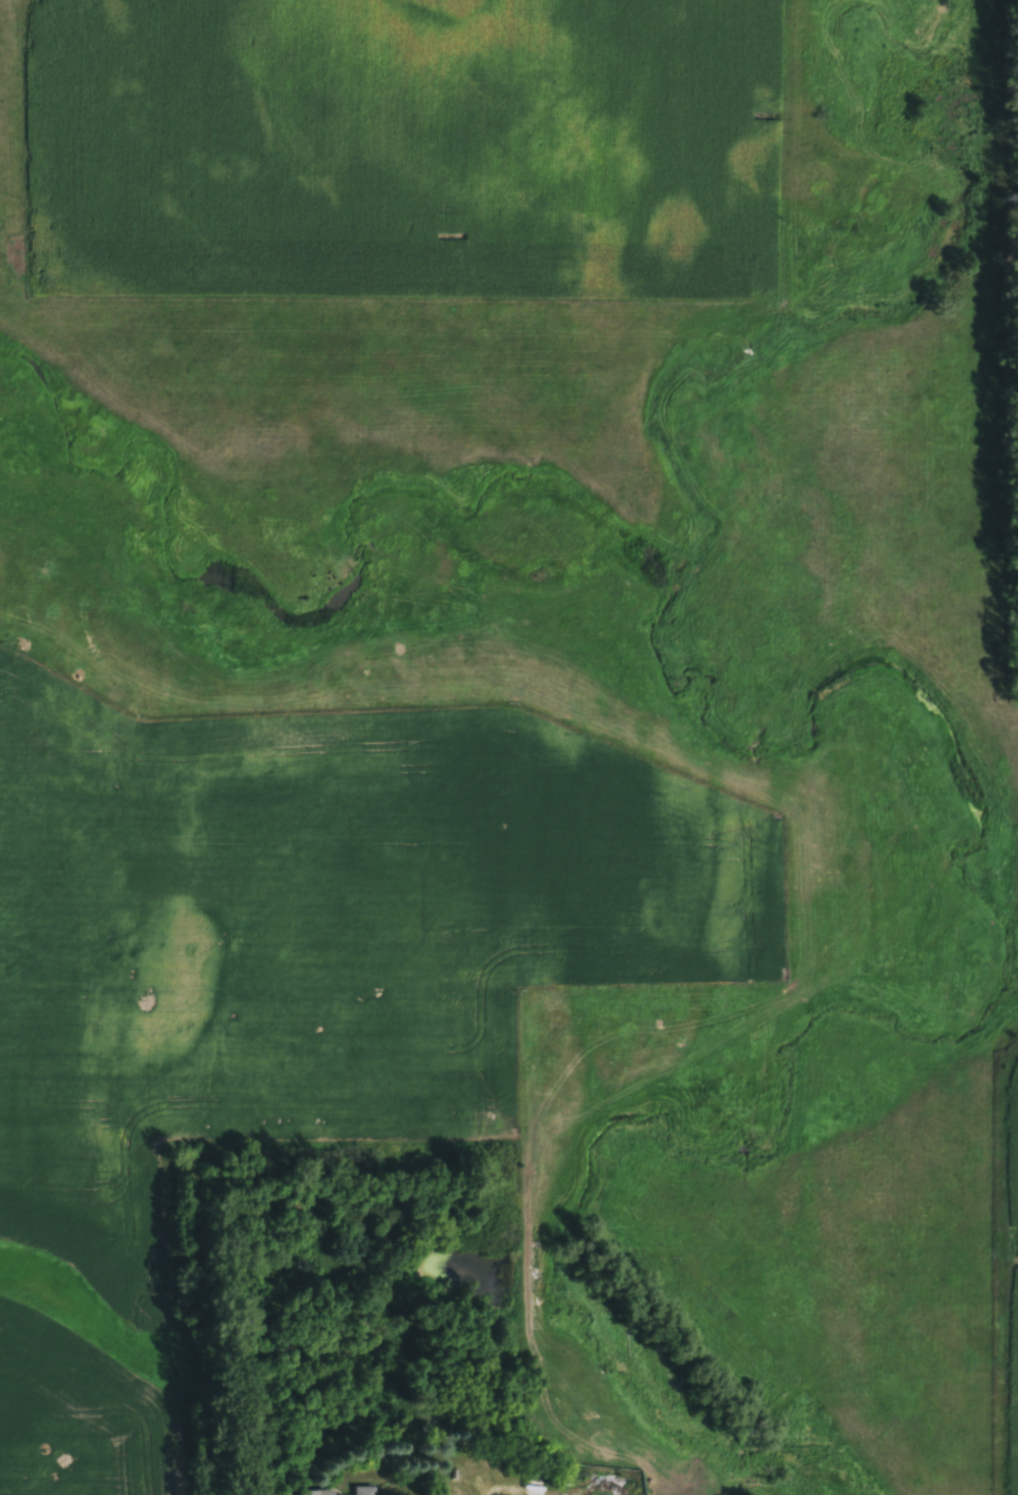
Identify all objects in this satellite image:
building: (537, 1487)
building: (365, 1491)
building: (318, 1493)

